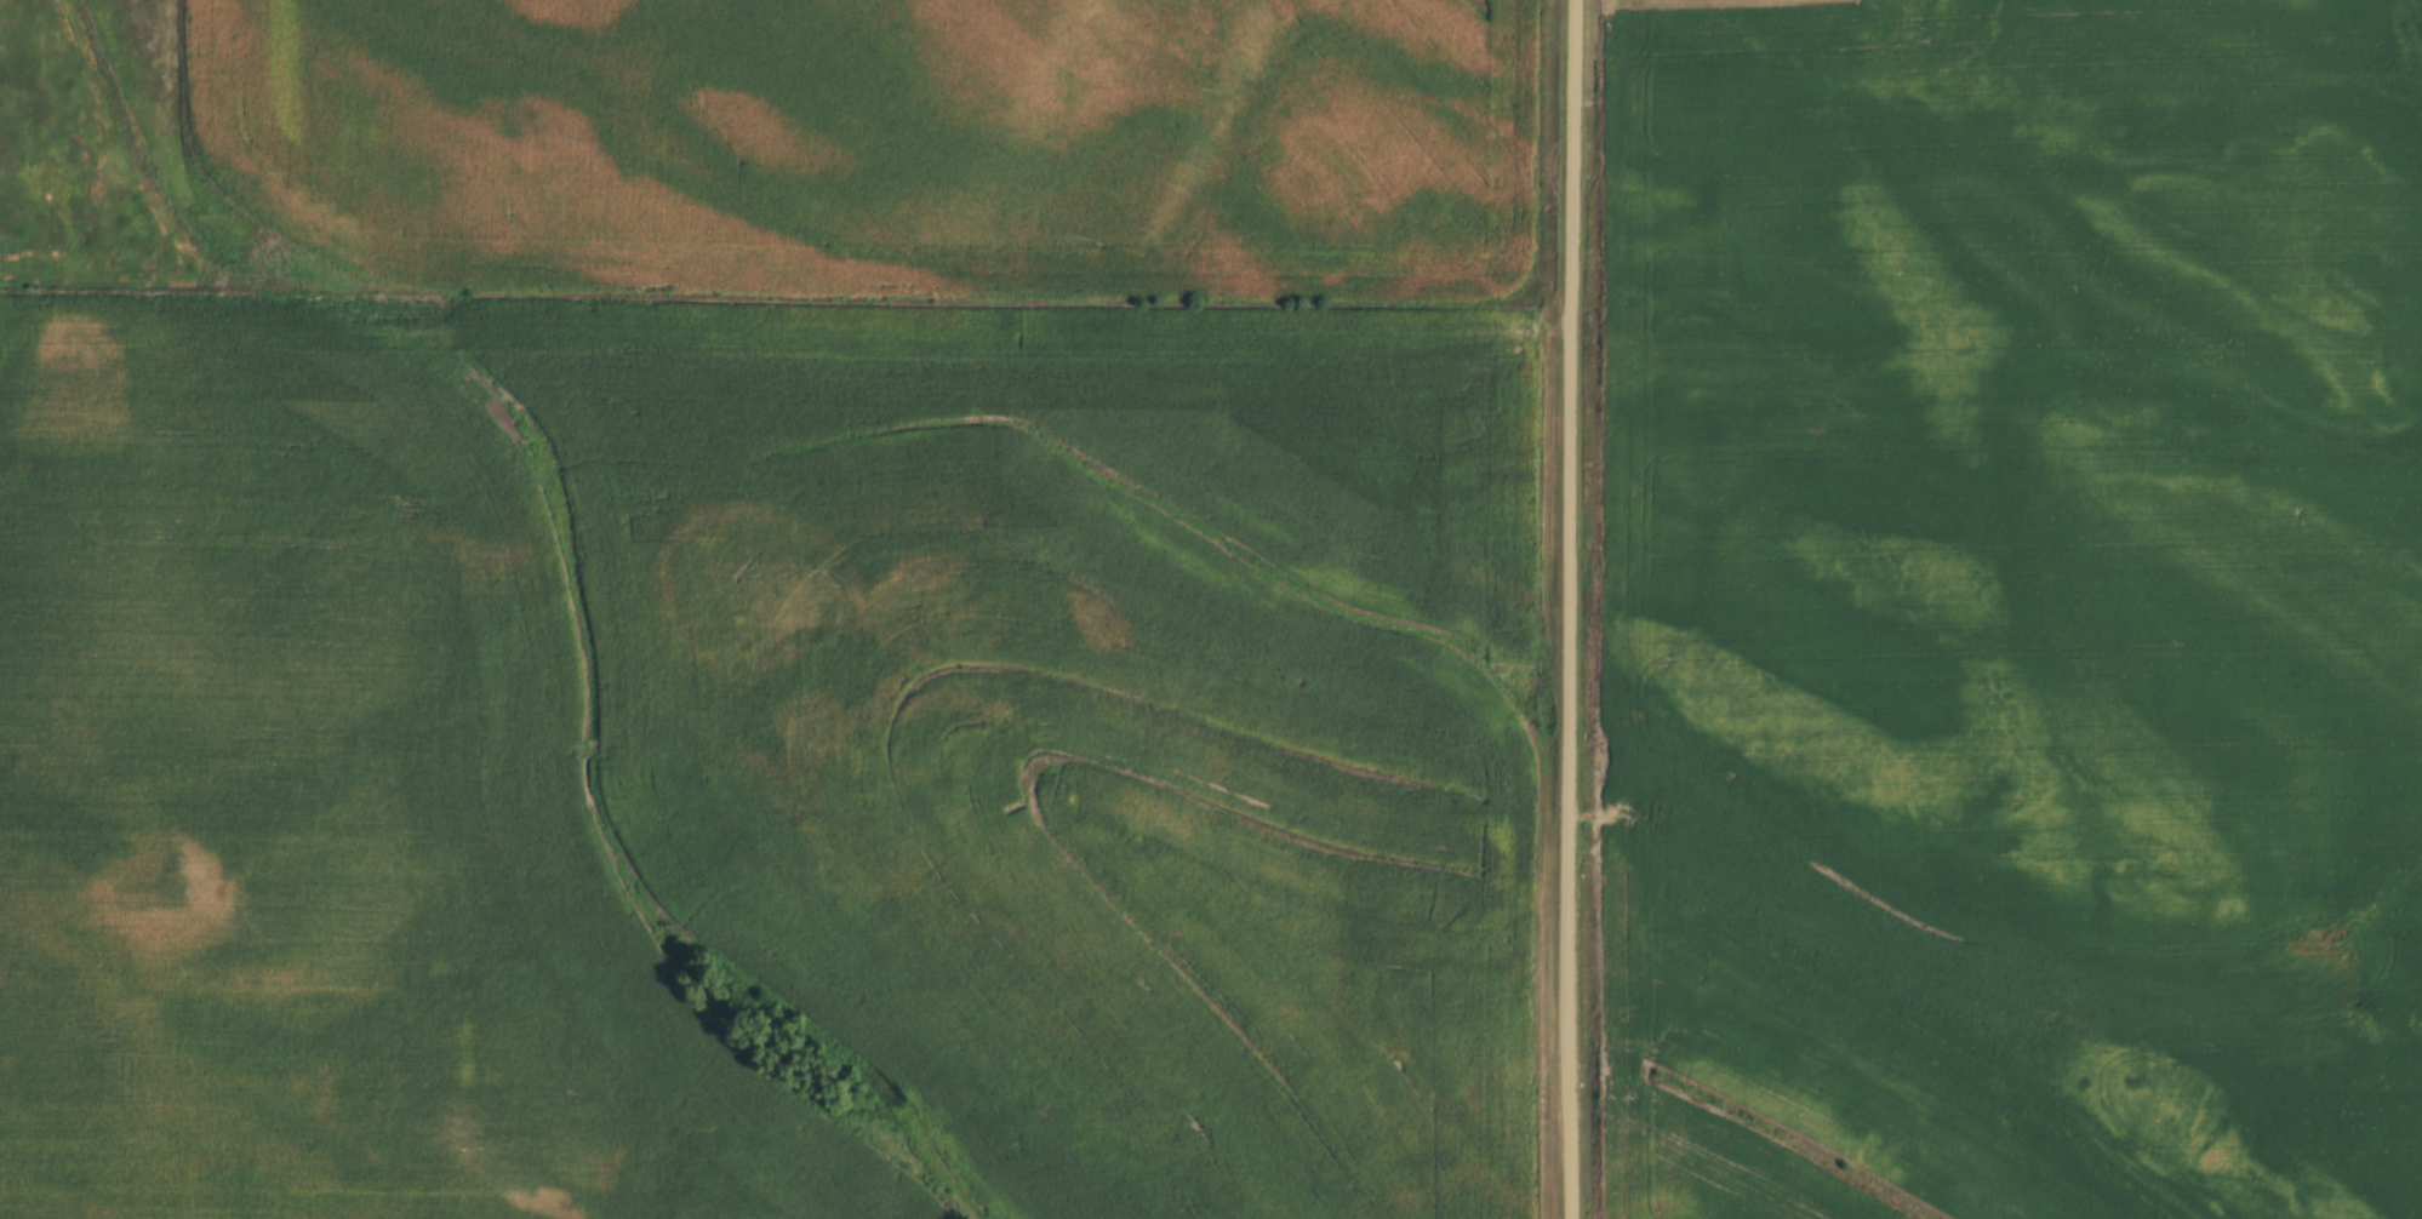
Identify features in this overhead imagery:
road: (1575, 609)

